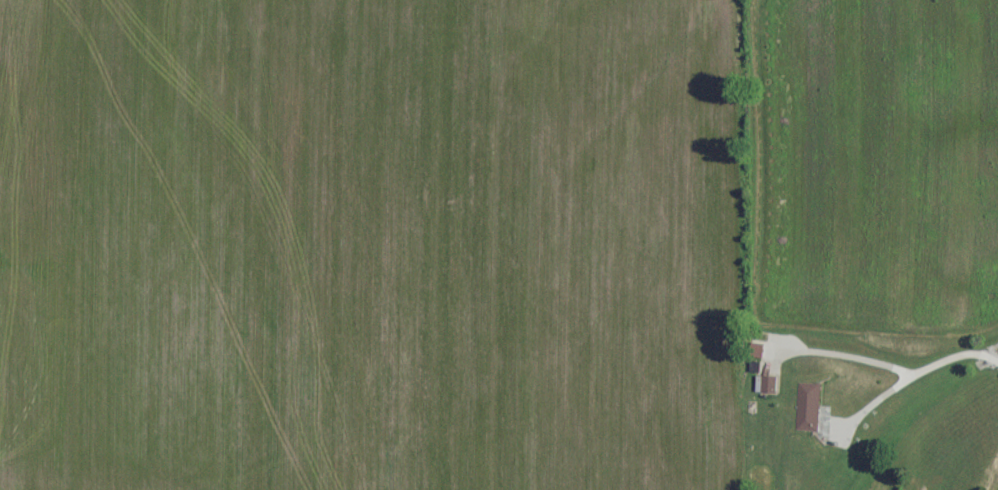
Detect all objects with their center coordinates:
road: (891, 370)
building: (766, 384)
building: (808, 407)

